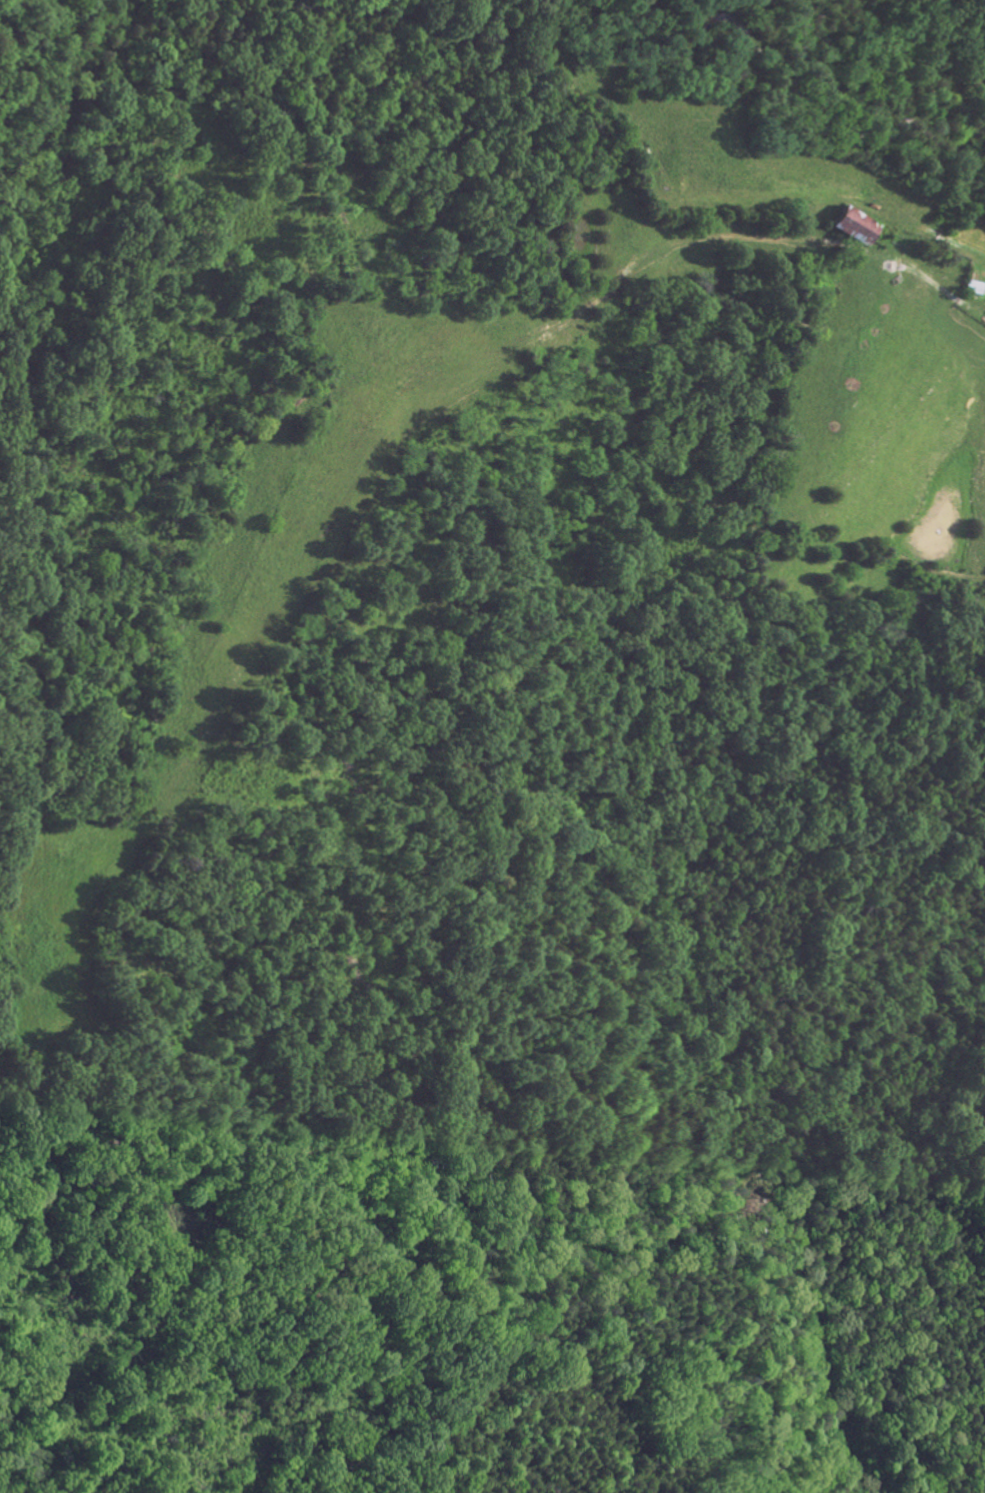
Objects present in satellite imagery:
building: (859, 226)

